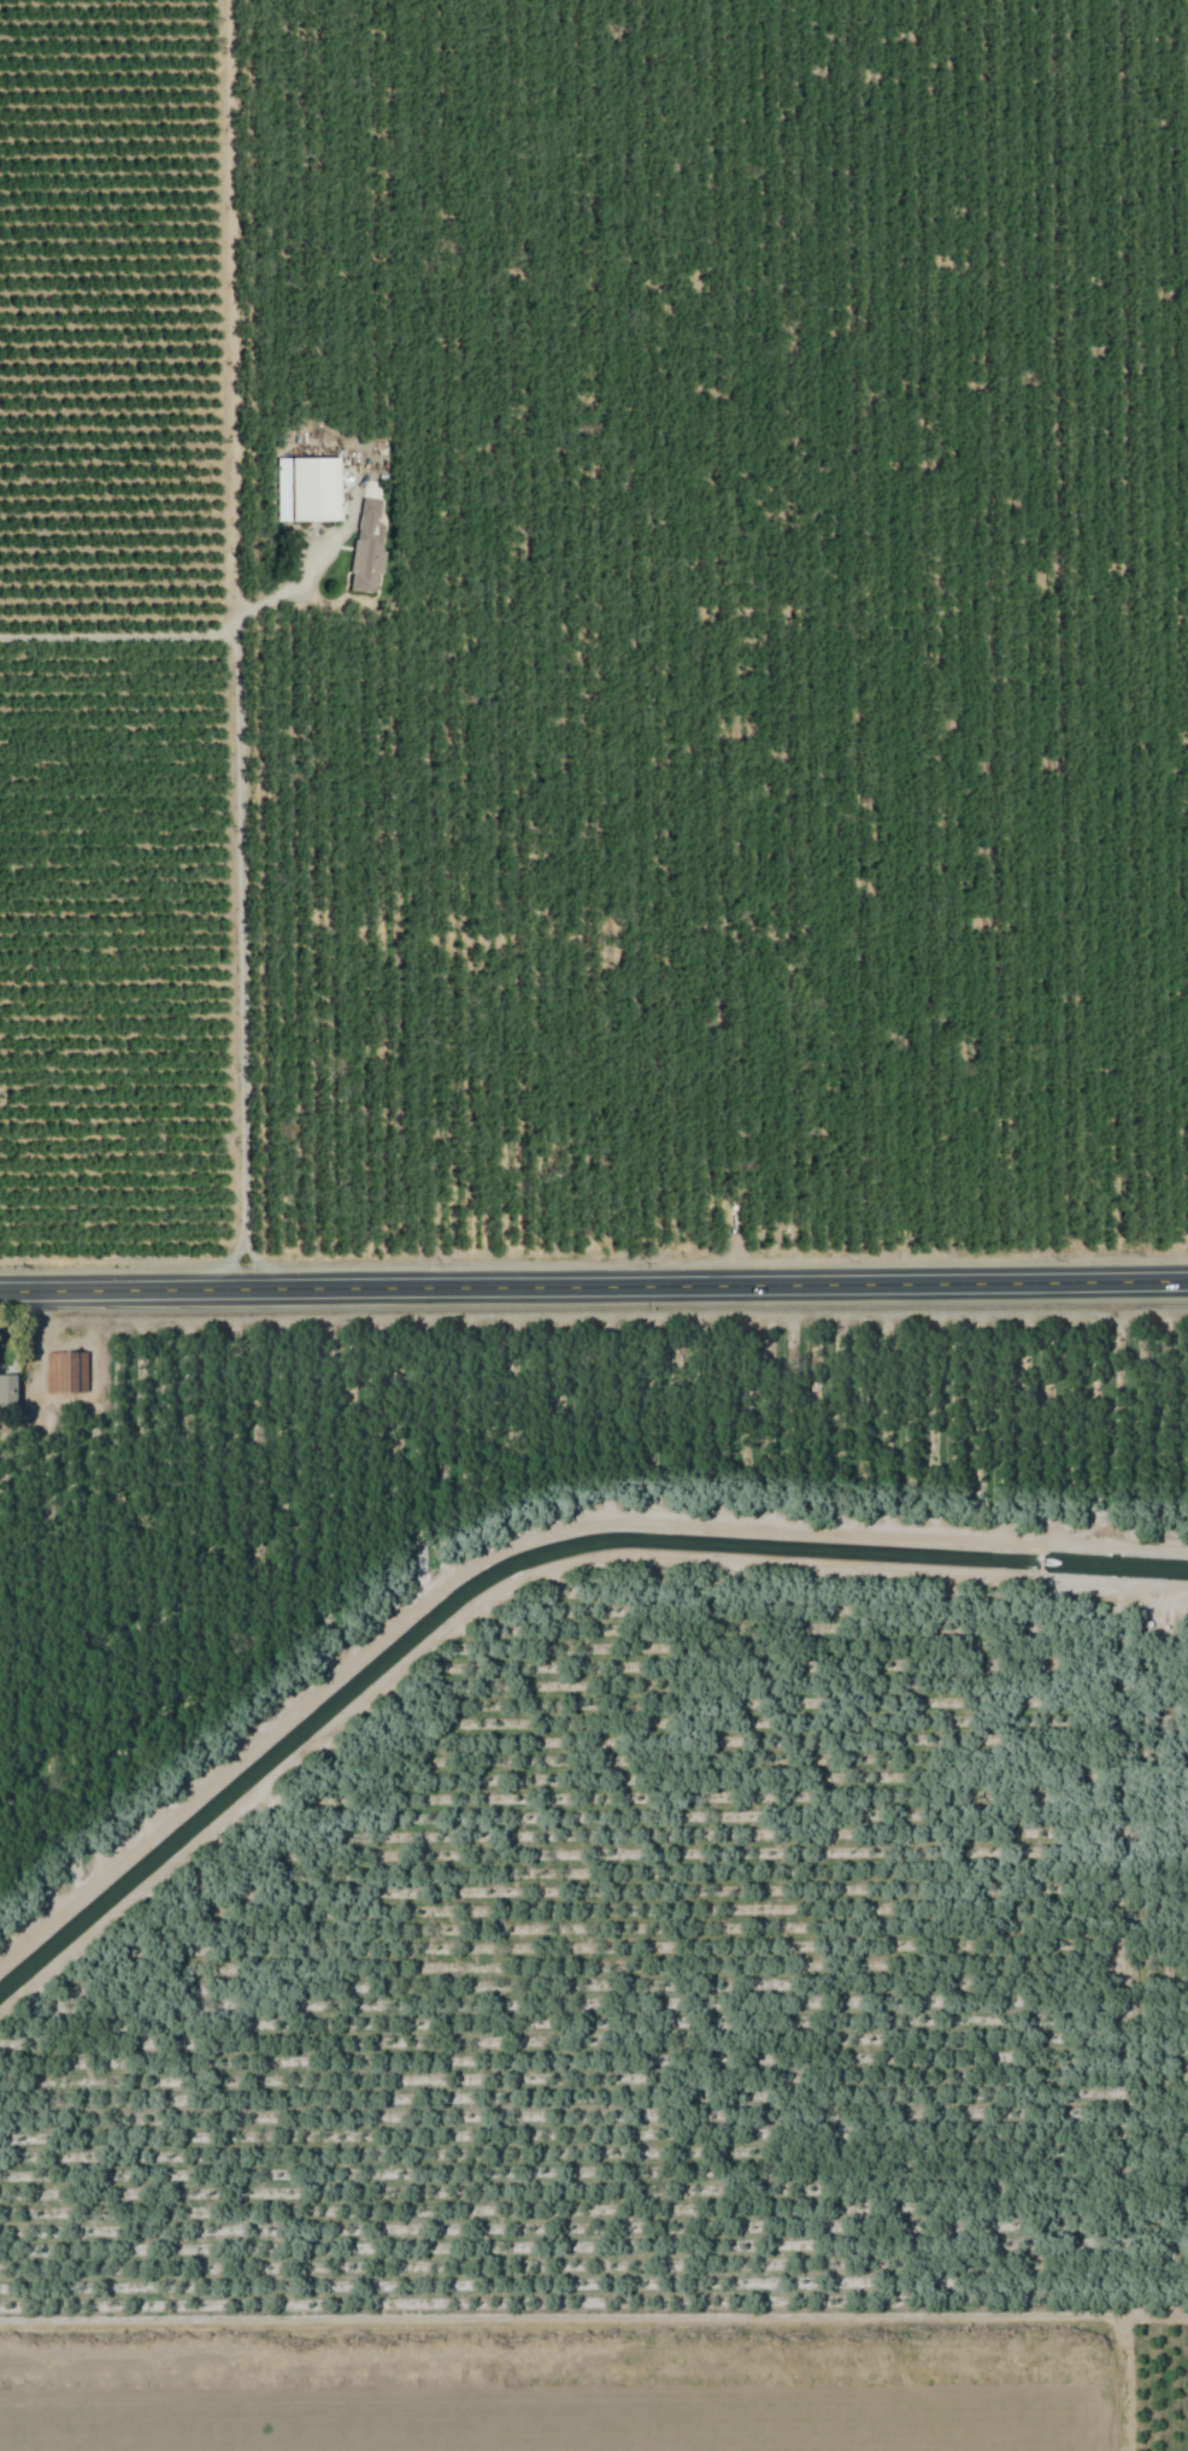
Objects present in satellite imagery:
building: (314, 490)
building: (369, 549)
road: (184, 636)
road: (242, 931)
road: (245, 1240)
road: (594, 1282)
building: (65, 1373)
building: (7, 1393)

